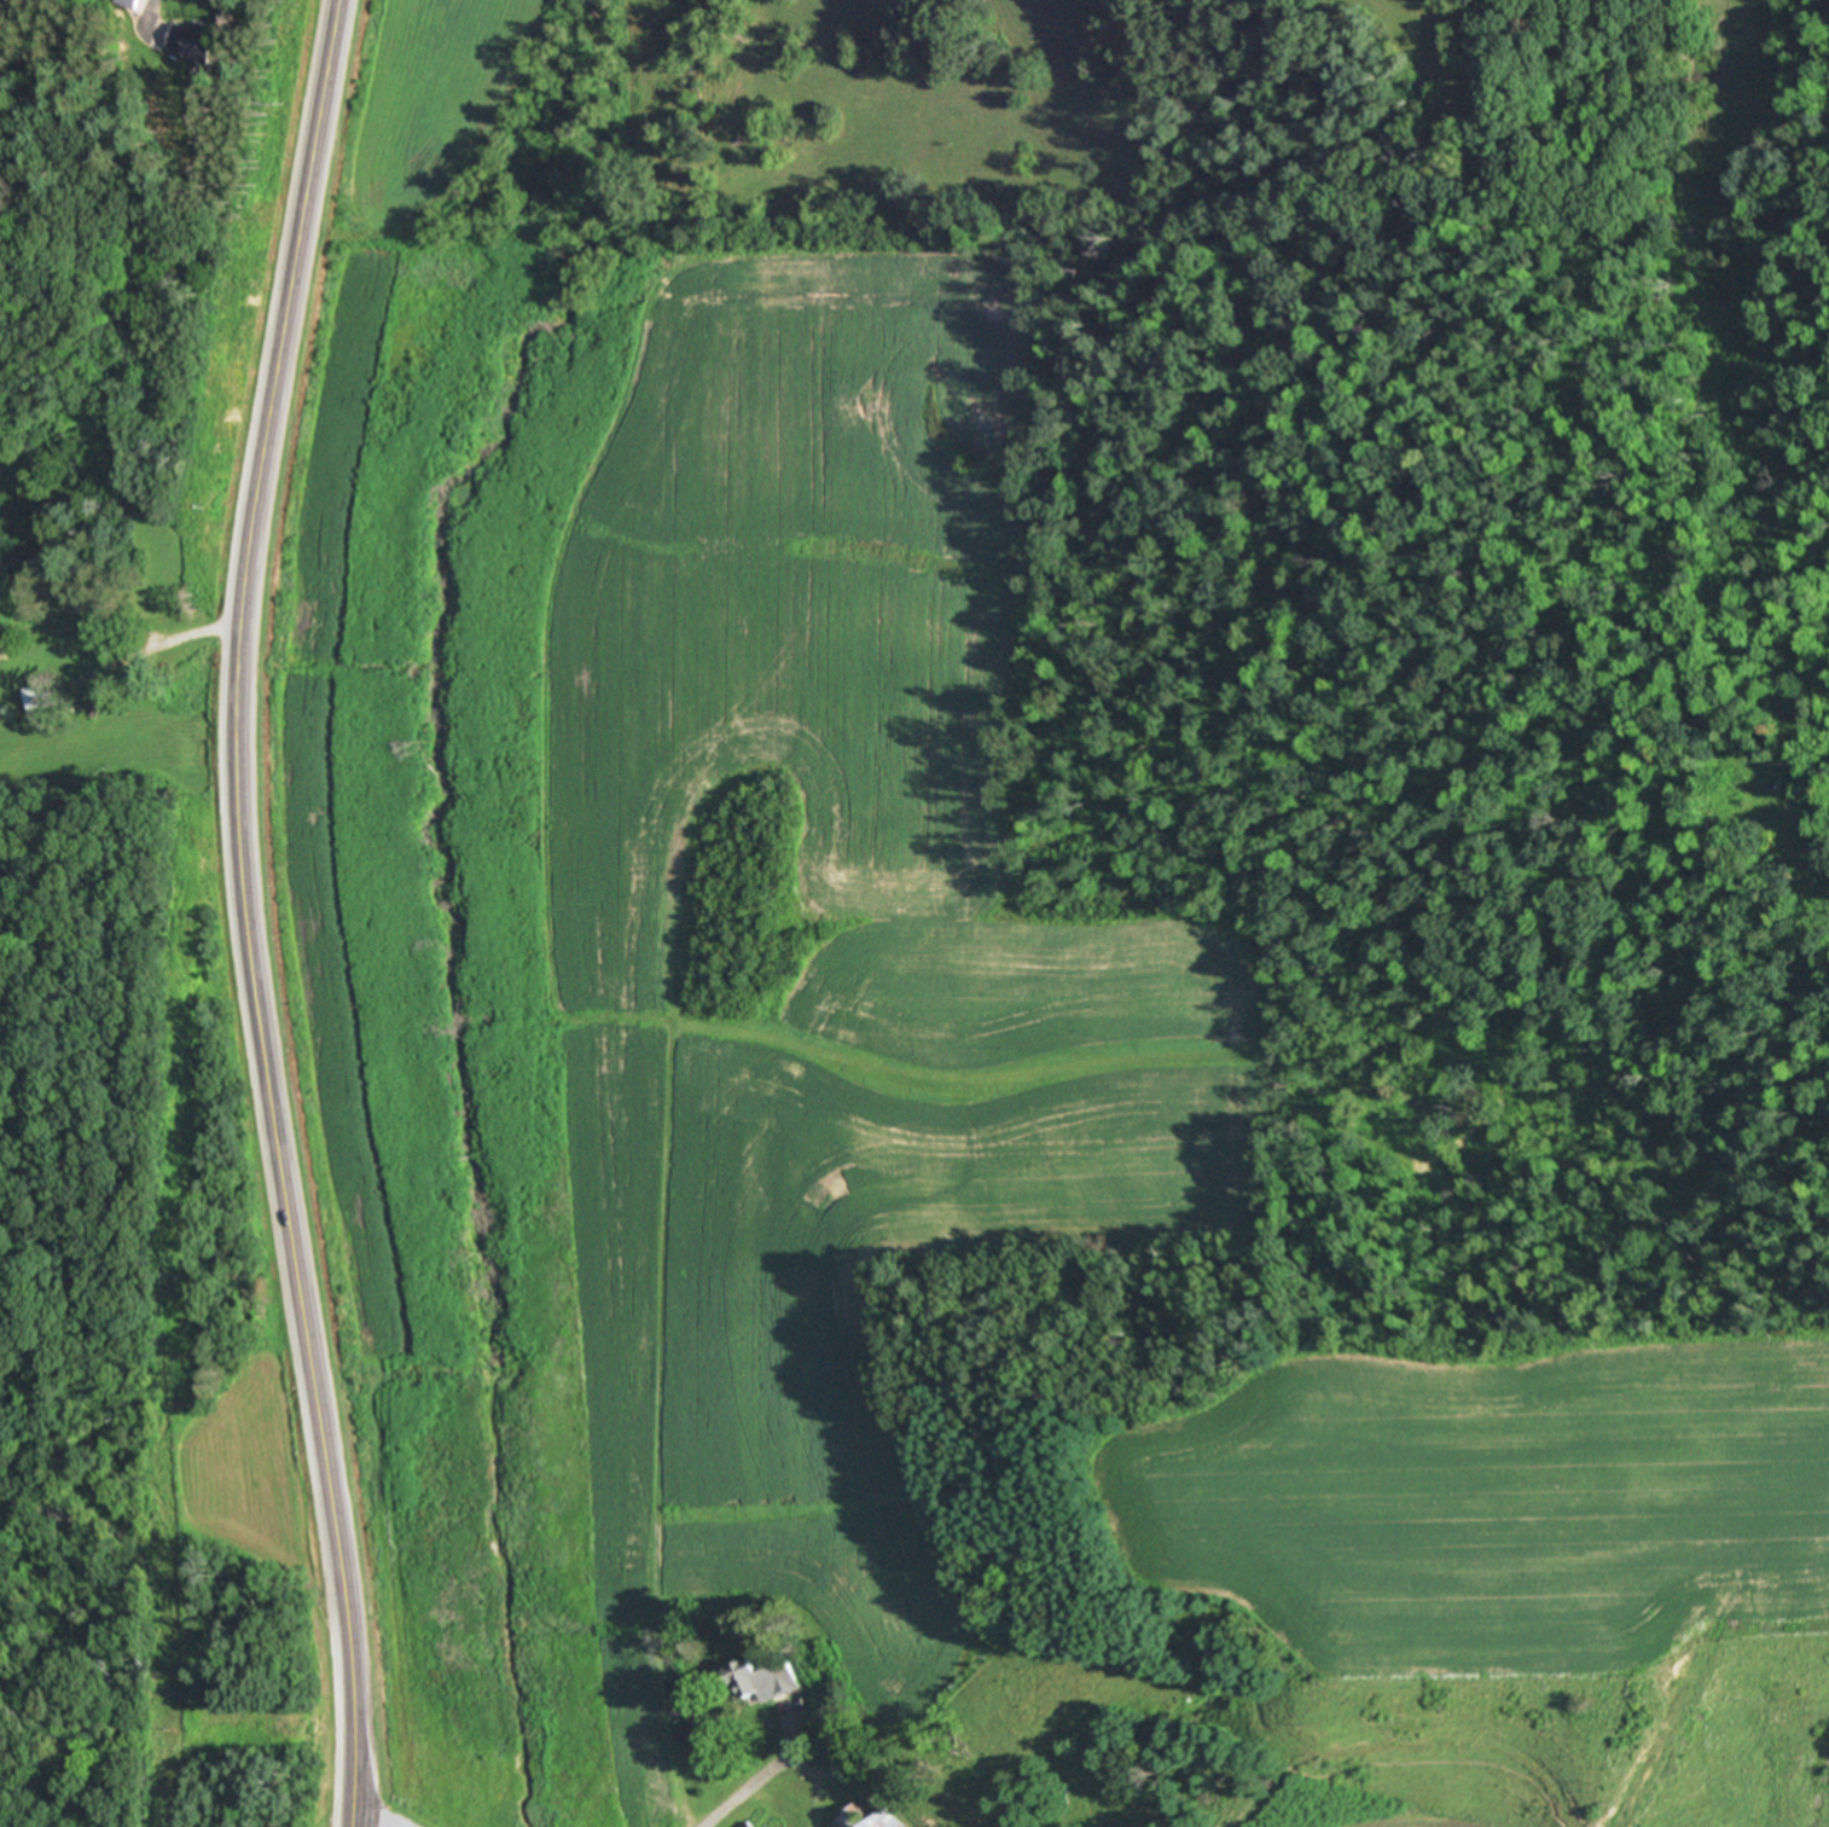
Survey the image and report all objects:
building: (124, 4)
road: (144, 18)
building: (191, 42)
building: (74, 634)
road: (188, 638)
building: (34, 695)
road: (236, 912)
building: (763, 1682)
road: (731, 1797)
building: (887, 1820)
road: (370, 1823)
building: (747, 1823)

